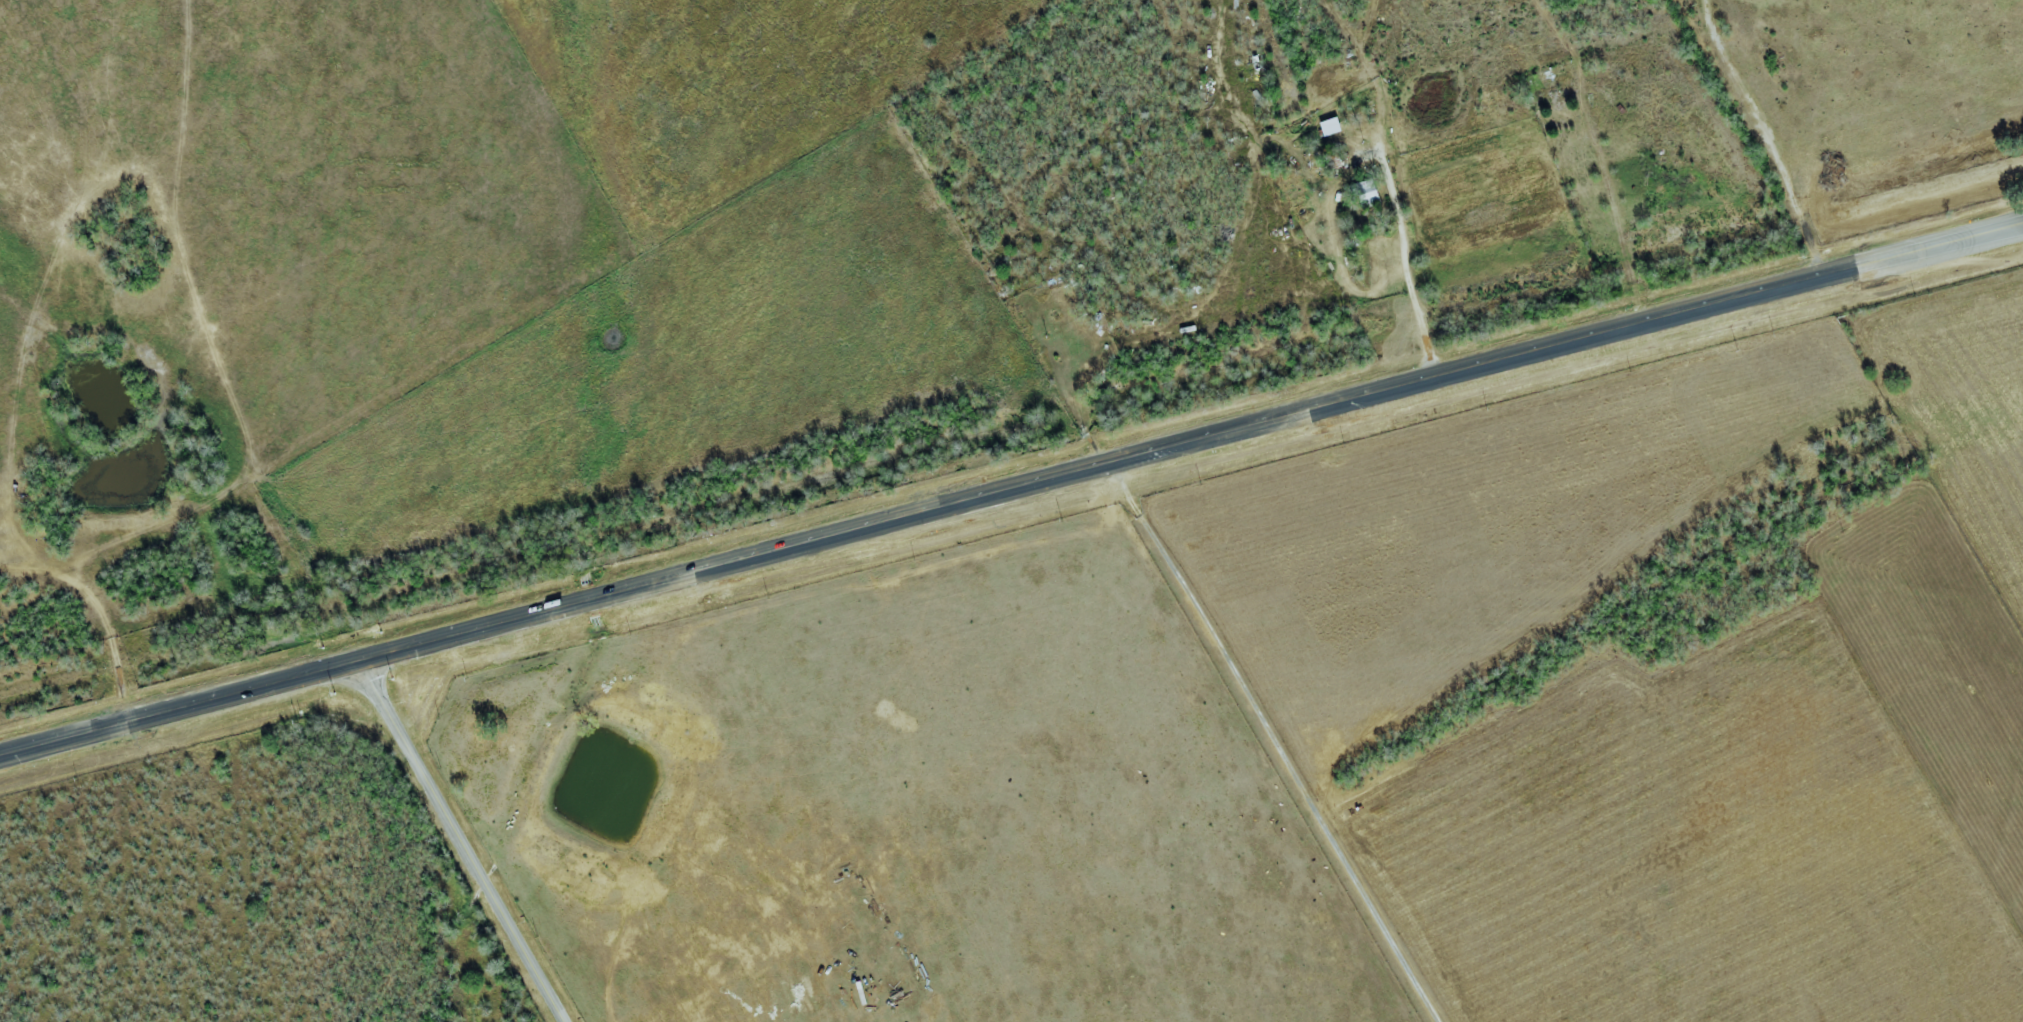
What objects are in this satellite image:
road: (1766, 137)
building: (1365, 193)
road: (1411, 266)
road: (1010, 490)
road: (101, 614)
road: (1274, 742)
road: (463, 843)

